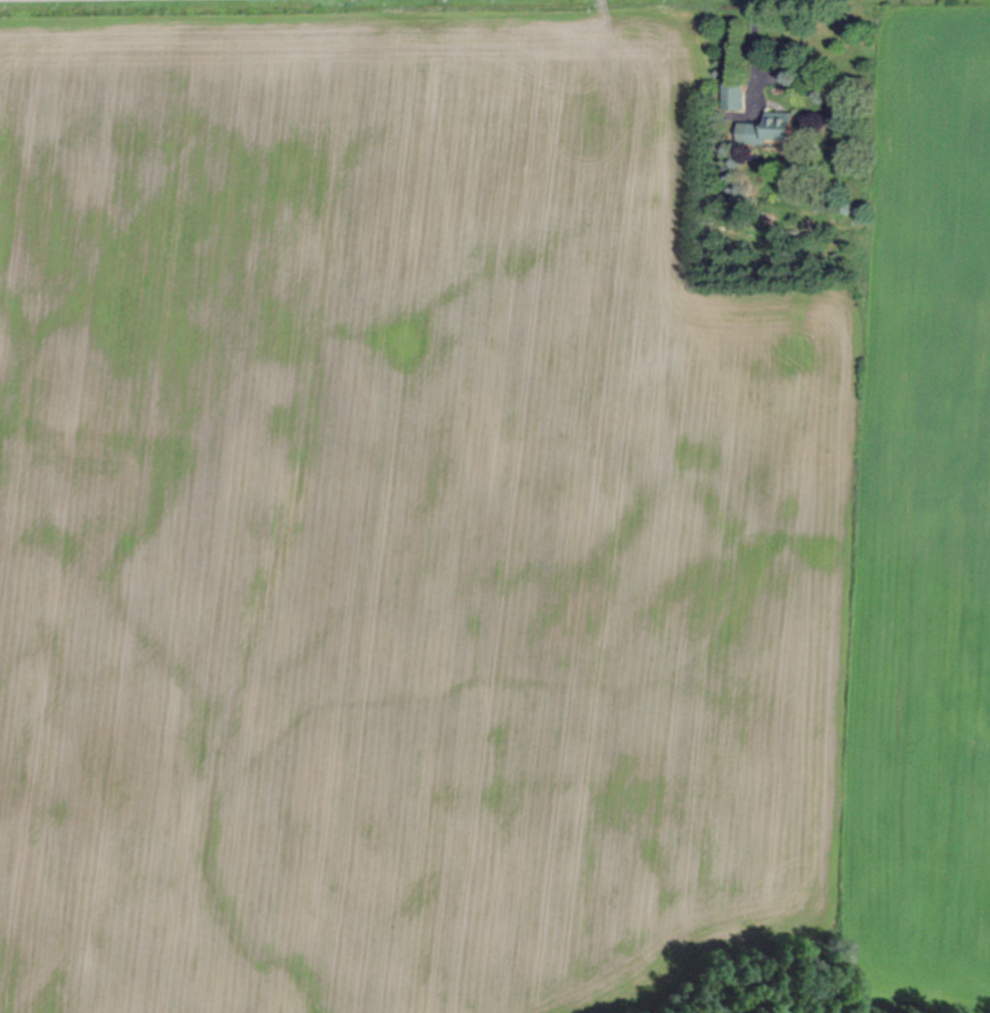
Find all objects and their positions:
road: (752, 50)
building: (766, 126)

